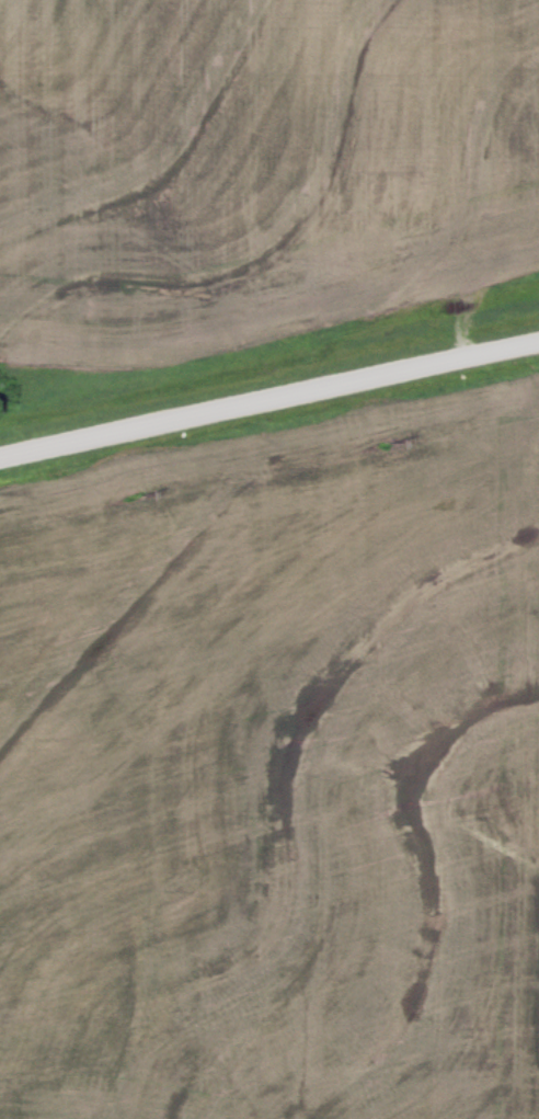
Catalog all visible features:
crop: (254, 165)
road: (268, 400)
crop: (276, 773)

